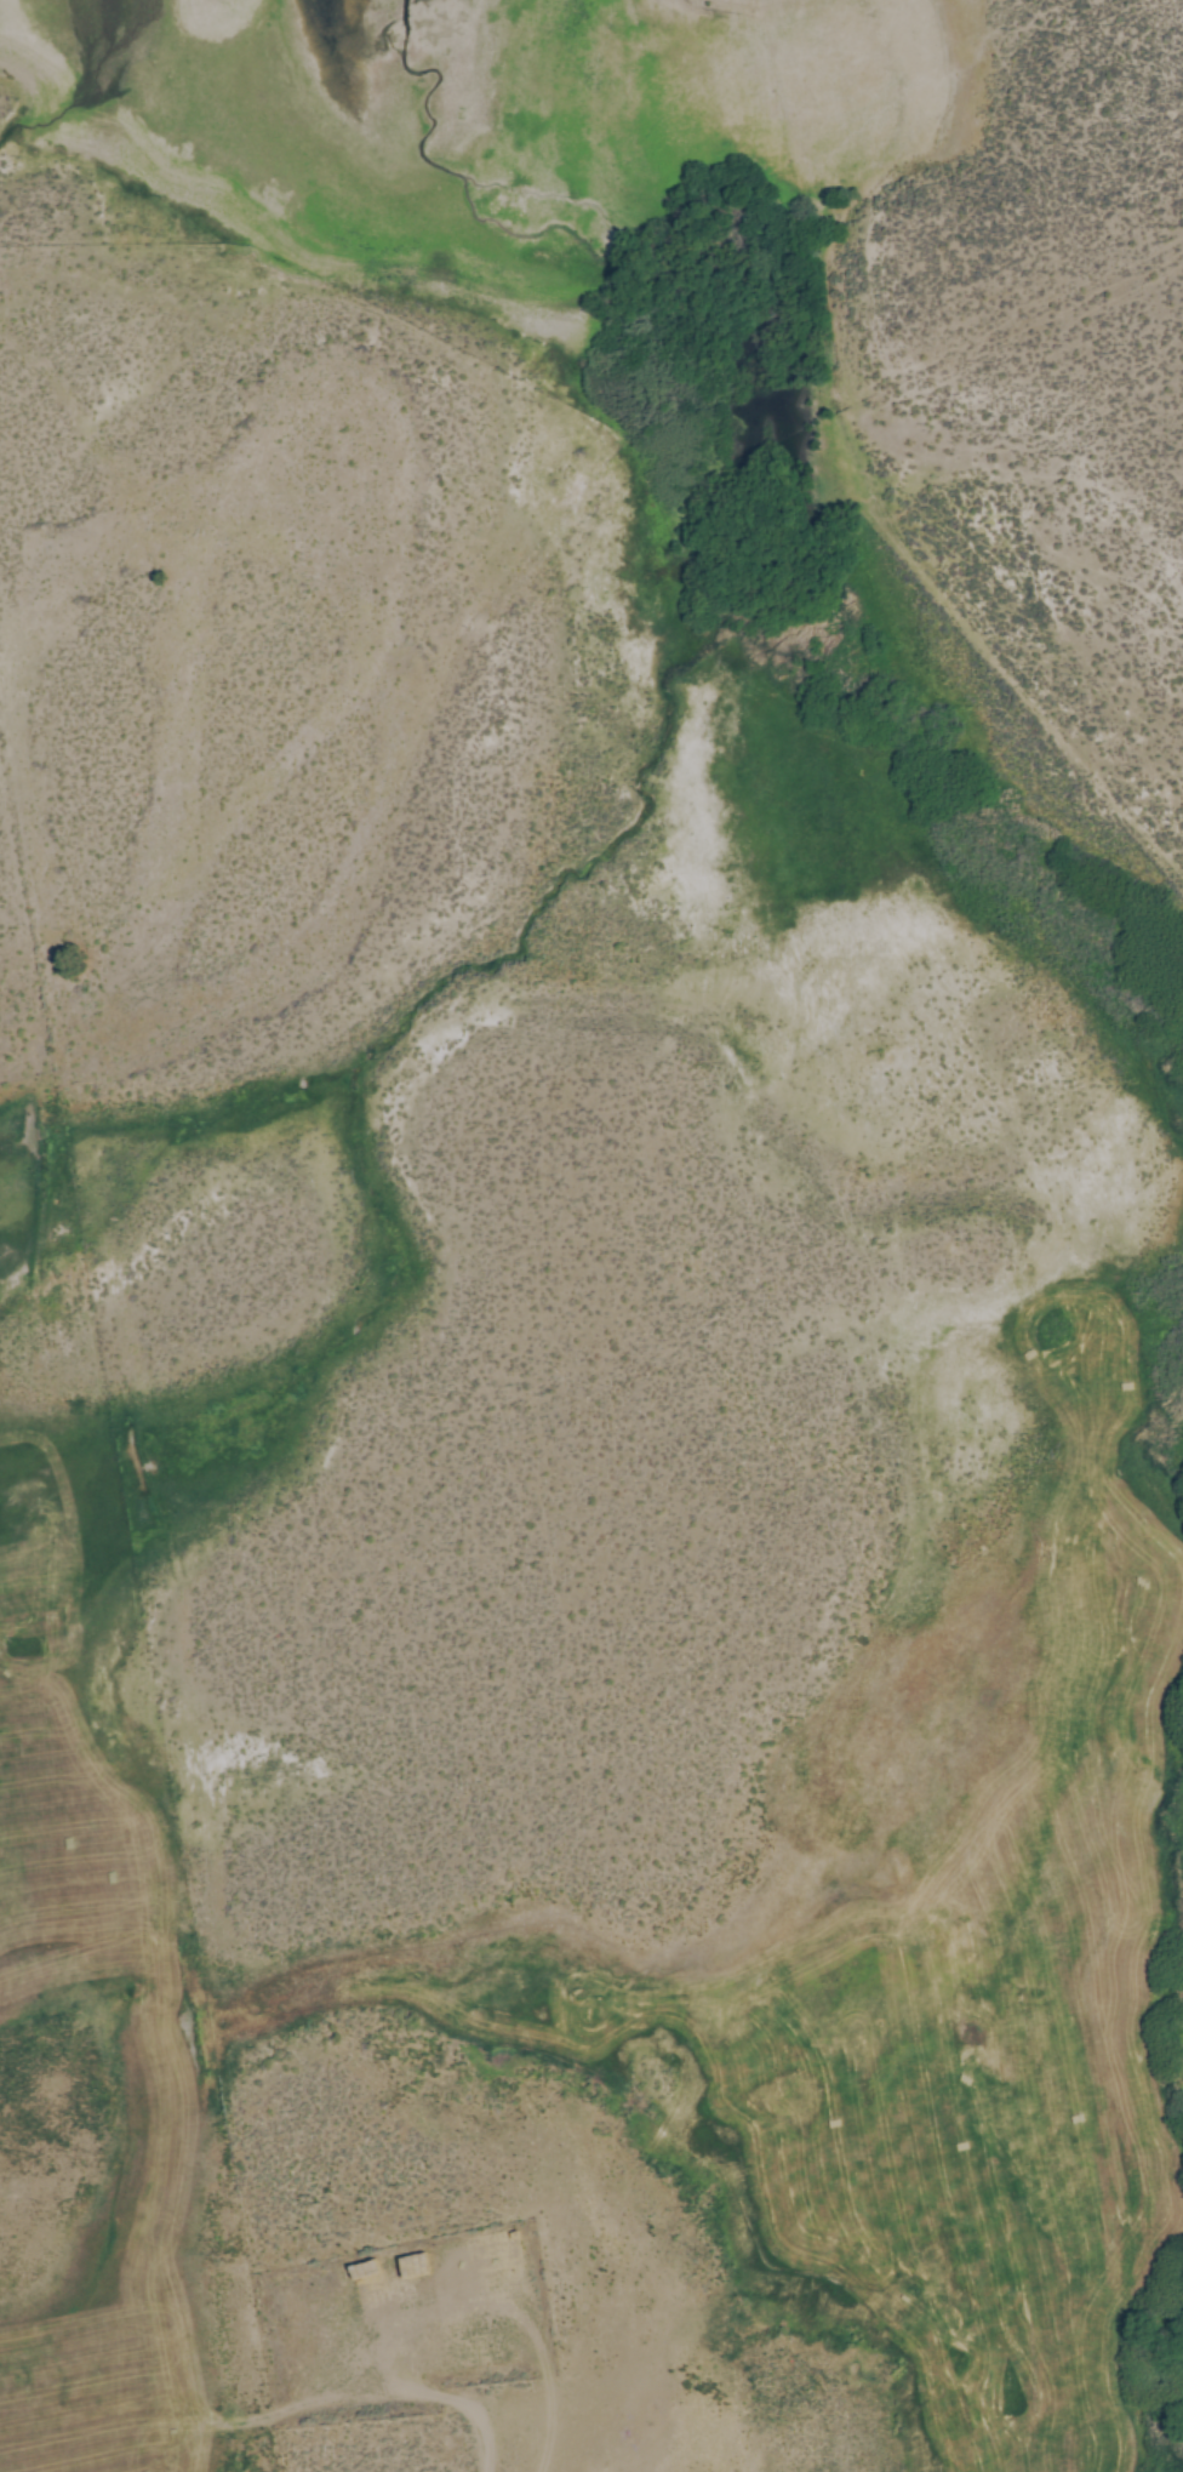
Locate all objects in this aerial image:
building: (273, 2312)

